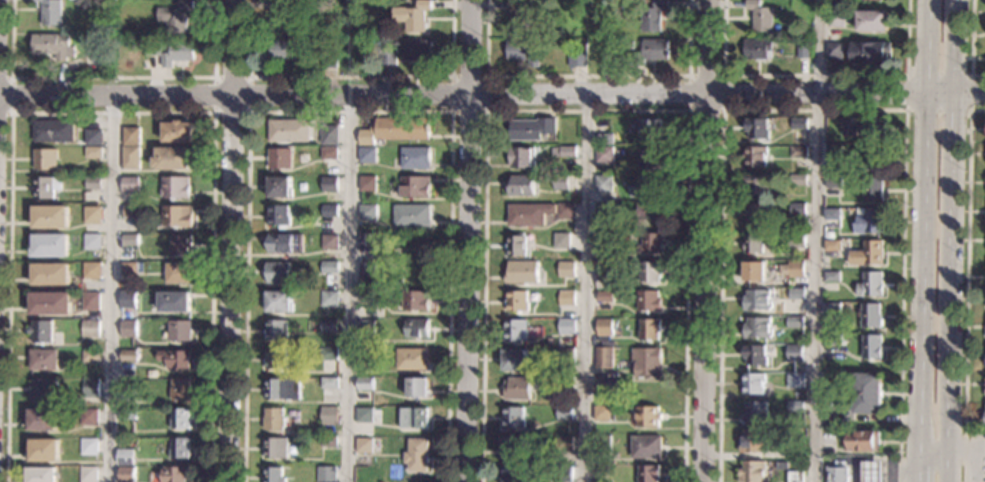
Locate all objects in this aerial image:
building: (862, 0)
building: (355, 7)
building: (51, 12)
building: (760, 15)
building: (175, 16)
building: (411, 16)
building: (522, 16)
building: (652, 16)
building: (286, 17)
building: (836, 19)
building: (872, 21)
road: (970, 44)
building: (106, 45)
building: (53, 46)
building: (153, 47)
building: (418, 50)
building: (758, 50)
building: (802, 50)
building: (651, 51)
building: (834, 51)
building: (522, 52)
building: (869, 52)
building: (178, 53)
building: (285, 53)
building: (100, 56)
building: (387, 57)
building: (578, 57)
building: (328, 59)
road: (814, 75)
road: (970, 75)
road: (349, 76)
road: (724, 76)
road: (112, 77)
road: (588, 77)
road: (492, 92)
road: (11, 94)
road: (815, 110)
road: (350, 111)
road: (486, 111)
road: (587, 111)
road: (112, 112)
road: (246, 112)
building: (798, 124)
building: (532, 128)
building: (757, 129)
building: (395, 130)
building: (651, 130)
building: (53, 131)
building: (288, 131)
building: (177, 132)
building: (851, 132)
building: (328, 135)
building: (131, 136)
building: (93, 137)
building: (831, 138)
building: (604, 139)
building: (565, 151)
building: (798, 151)
building: (92, 153)
building: (834, 153)
building: (329, 154)
building: (367, 155)
building: (604, 155)
building: (521, 157)
building: (756, 157)
building: (130, 158)
building: (172, 158)
building: (279, 158)
building: (651, 158)
building: (415, 159)
building: (872, 159)
building: (44, 160)
building: (798, 180)
building: (561, 182)
building: (833, 182)
building: (93, 184)
building: (129, 184)
building: (328, 184)
building: (367, 184)
building: (603, 184)
building: (521, 185)
building: (757, 185)
building: (46, 186)
building: (646, 186)
building: (414, 187)
building: (175, 188)
building: (278, 188)
building: (873, 190)
building: (797, 208)
building: (329, 211)
building: (565, 211)
building: (604, 211)
building: (130, 212)
building: (367, 212)
building: (649, 212)
building: (528, 214)
building: (757, 214)
building: (832, 214)
building: (92, 215)
building: (411, 215)
building: (176, 216)
building: (278, 216)
building: (50, 217)
building: (869, 220)
building: (797, 239)
building: (130, 240)
road: (232, 240)
road: (468, 240)
road: (704, 240)
road: (815, 240)
road: (917, 240)
building: (562, 241)
building: (603, 241)
road: (946, 241)
building: (92, 242)
building: (329, 242)
building: (371, 242)
building: (753, 243)
building: (285, 244)
building: (651, 244)
building: (50, 245)
building: (179, 245)
building: (832, 245)
building: (516, 246)
building: (868, 255)
building: (329, 267)
building: (132, 268)
building: (566, 269)
building: (366, 270)
building: (793, 270)
building: (91, 272)
building: (650, 272)
building: (754, 272)
building: (177, 273)
building: (278, 273)
building: (521, 273)
building: (51, 274)
building: (832, 276)
building: (603, 281)
building: (870, 285)
road: (582, 286)
road: (348, 287)
road: (966, 288)
road: (109, 289)
building: (796, 293)
building: (604, 297)
building: (329, 298)
building: (367, 298)
building: (566, 298)
building: (128, 300)
building: (757, 300)
building: (516, 301)
building: (648, 301)
building: (90, 302)
building: (173, 302)
building: (278, 302)
building: (414, 302)
building: (50, 303)
building: (832, 308)
building: (871, 315)
building: (794, 322)
building: (320, 326)
building: (566, 326)
building: (365, 327)
building: (90, 328)
building: (128, 328)
building: (416, 328)
building: (603, 328)
building: (649, 329)
building: (757, 329)
building: (276, 330)
building: (514, 330)
building: (179, 331)
building: (41, 332)
building: (833, 339)
building: (871, 347)
building: (794, 353)
building: (327, 354)
building: (565, 355)
building: (91, 356)
building: (128, 356)
building: (754, 356)
building: (602, 358)
building: (174, 359)
building: (275, 359)
building: (411, 359)
building: (43, 360)
building: (364, 360)
building: (514, 360)
building: (646, 363)
building: (794, 380)
building: (328, 383)
building: (565, 383)
building: (364, 384)
building: (753, 384)
building: (416, 387)
building: (91, 388)
building: (42, 389)
building: (282, 389)
building: (516, 389)
building: (180, 390)
building: (984, 391)
building: (127, 393)
building: (866, 393)
building: (794, 406)
building: (564, 412)
building: (754, 412)
building: (601, 413)
building: (128, 415)
building: (363, 415)
building: (328, 416)
building: (89, 417)
building: (647, 417)
building: (412, 418)
building: (513, 418)
building: (984, 418)
building: (179, 419)
building: (273, 419)
building: (42, 420)
building: (327, 441)
building: (861, 441)
building: (752, 442)
building: (564, 444)
building: (601, 444)
building: (362, 445)
building: (88, 447)
building: (512, 447)
building: (645, 447)
building: (179, 448)
building: (276, 448)
building: (45, 450)
building: (794, 452)
building: (415, 455)
building: (125, 456)
building: (601, 470)
building: (875, 471)
gas station: (875, 471)
building: (751, 472)
building: (648, 473)
building: (88, 474)
building: (126, 474)
building: (174, 474)
building: (273, 474)
building: (325, 474)
building: (511, 474)
building: (563, 474)
building: (838, 474)
building: (41, 475)
building: (794, 477)

